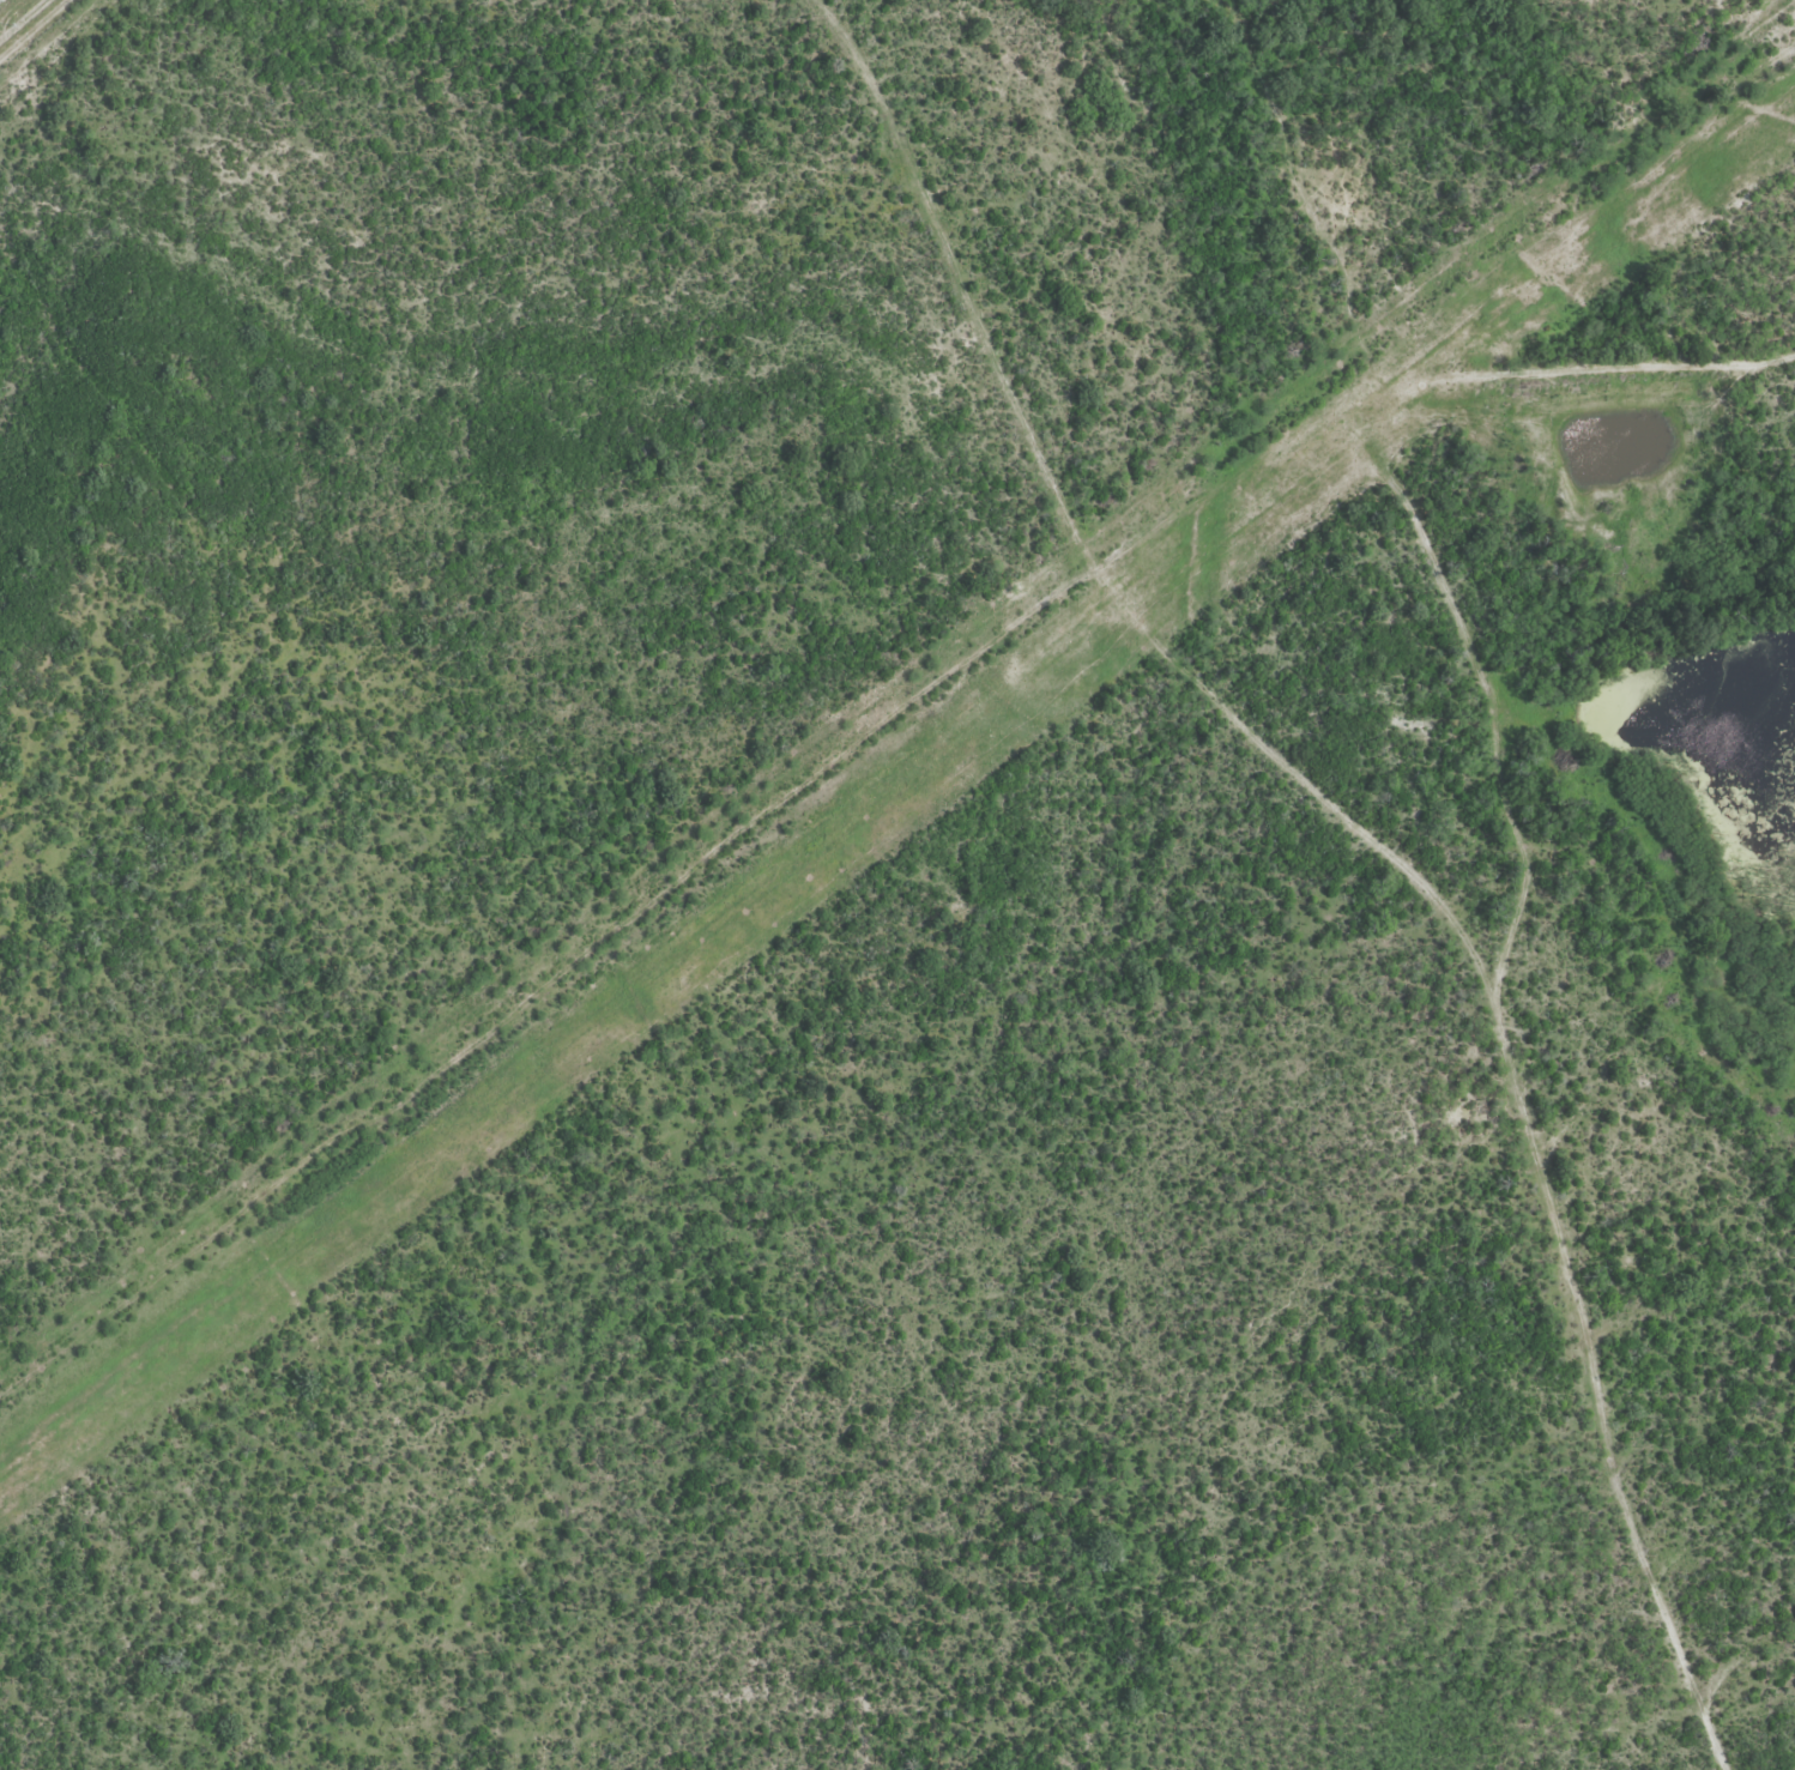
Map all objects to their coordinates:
road: (1747, 401)

